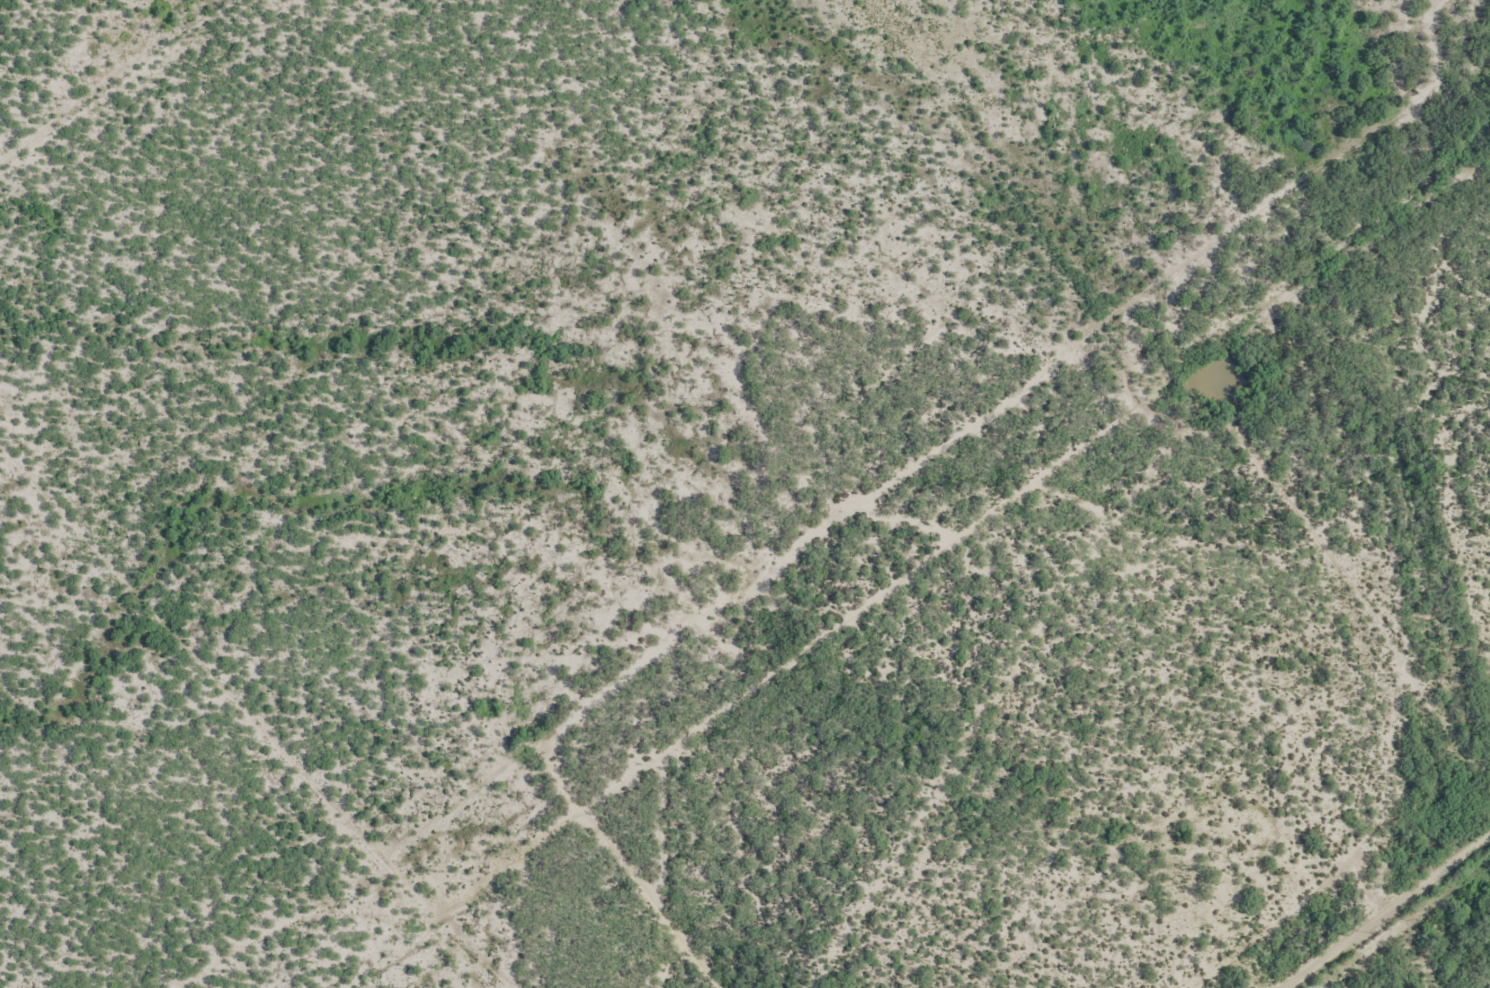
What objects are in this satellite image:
road: (1407, 927)

